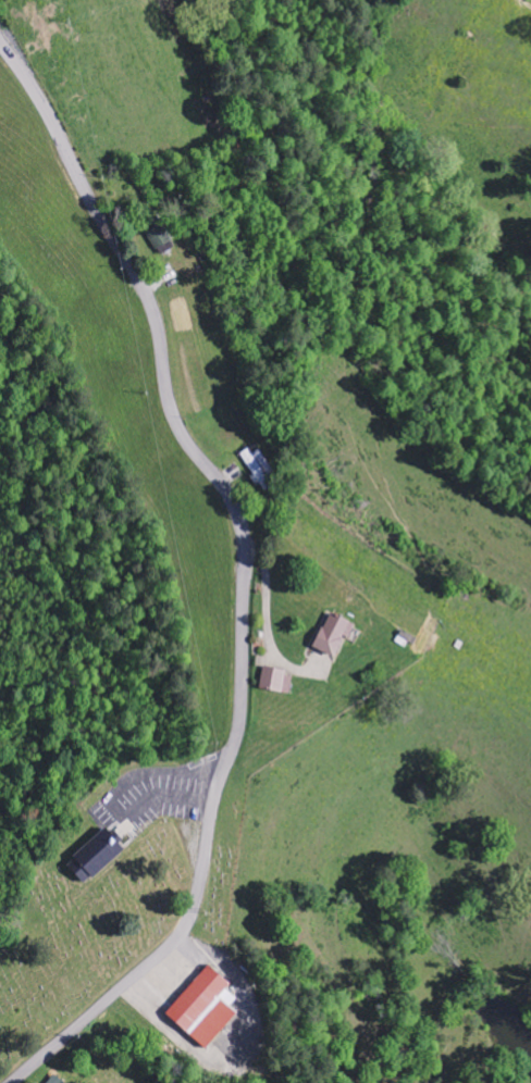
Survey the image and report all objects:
building: (160, 236)
building: (261, 469)
road: (240, 577)
building: (336, 636)
building: (277, 682)
building: (99, 857)
building: (207, 1009)
road: (235, 1020)
building: (57, 1080)

